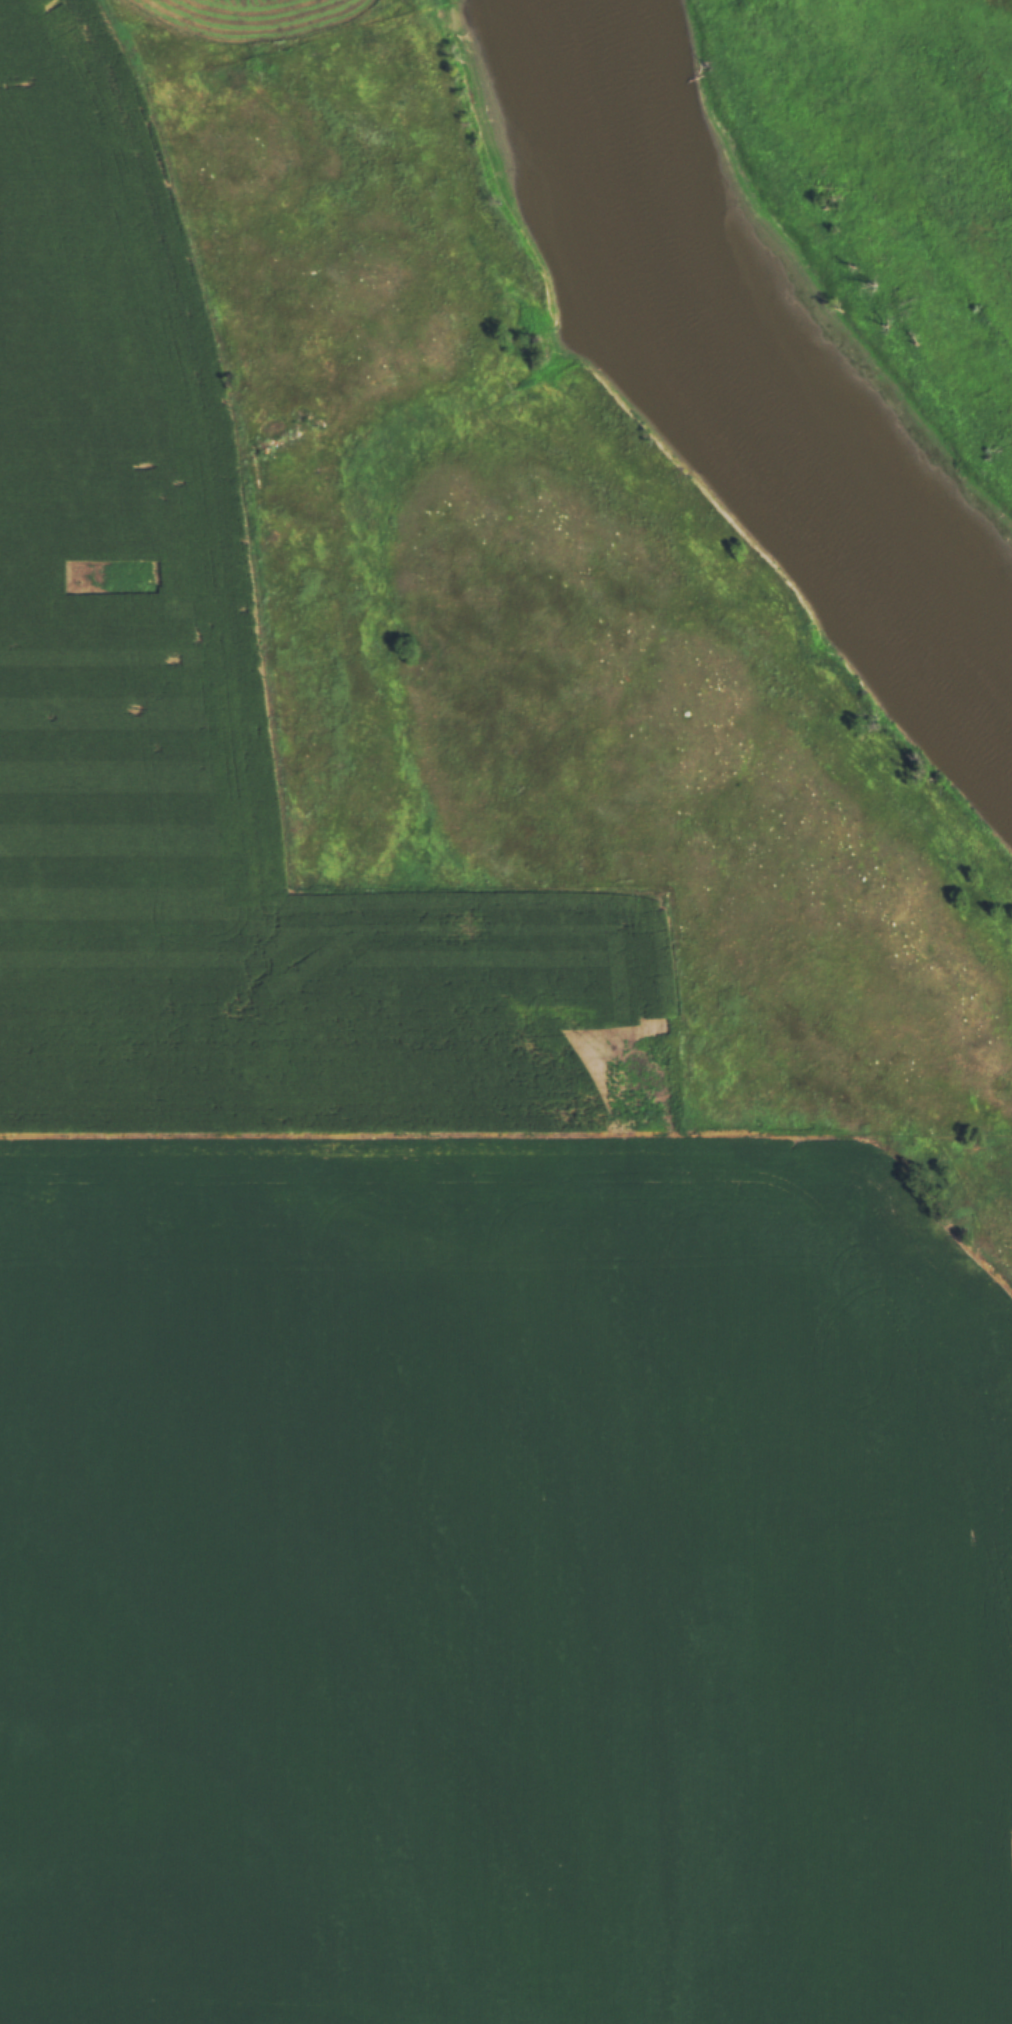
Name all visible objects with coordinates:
river: (818, 305)

